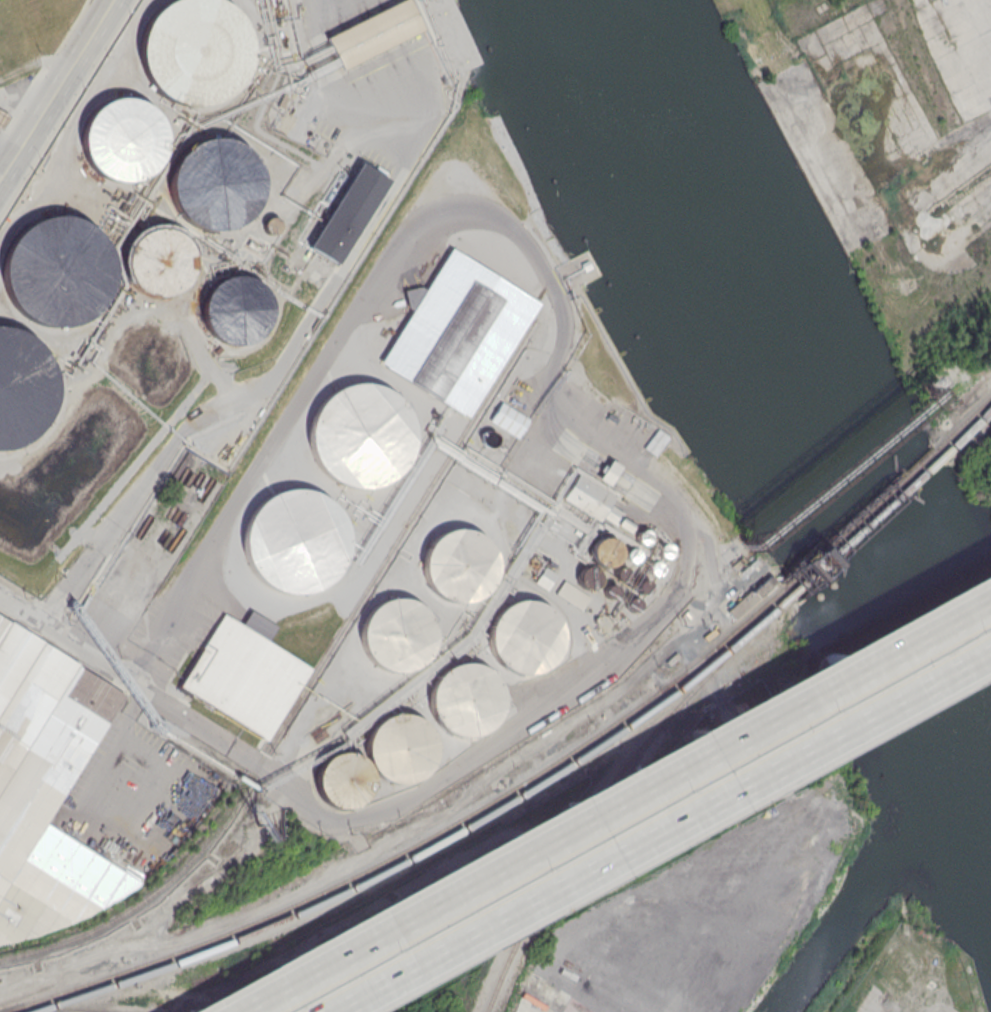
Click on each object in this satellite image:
road: (107, 10)
building: (372, 32)
building: (193, 50)
storage tank: (193, 50)
road: (35, 61)
road: (338, 94)
road: (50, 99)
building: (3, 119)
building: (120, 140)
storage tank: (120, 140)
building: (212, 184)
storage tank: (212, 184)
building: (346, 211)
building: (160, 261)
storage tank: (160, 261)
building: (55, 269)
storage tank: (55, 269)
building: (236, 308)
storage tank: (236, 308)
building: (457, 333)
road: (271, 376)
building: (22, 387)
storage tank: (22, 387)
river: (775, 390)
building: (508, 420)
railway: (963, 423)
railway: (969, 428)
railway: (965, 431)
building: (359, 438)
storage tank: (359, 438)
building: (652, 444)
park: (980, 487)
building: (592, 500)
railway: (860, 517)
railway: (866, 523)
building: (641, 537)
storage tank: (641, 537)
building: (293, 542)
storage tank: (293, 542)
building: (664, 549)
storage tank: (664, 549)
building: (603, 551)
storage tank: (603, 551)
building: (631, 554)
storage tank: (631, 554)
building: (457, 565)
storage tank: (457, 565)
building: (652, 568)
storage tank: (652, 568)
building: (619, 573)
storage tank: (619, 573)
building: (587, 577)
storage tank: (587, 577)
building: (543, 578)
building: (641, 585)
storage tank: (641, 585)
building: (609, 590)
storage tank: (609, 590)
building: (572, 594)
building: (746, 598)
building: (631, 604)
storage tank: (631, 604)
road: (25, 608)
building: (396, 634)
storage tank: (396, 634)
building: (524, 635)
storage tank: (524, 635)
building: (244, 676)
railway: (304, 686)
road: (137, 688)
building: (464, 700)
storage tank: (464, 700)
road: (496, 736)
building: (400, 746)
storage tank: (400, 746)
building: (41, 769)
building: (341, 778)
storage tank: (341, 778)
railway: (603, 794)
road: (609, 800)
road: (90, 813)
road: (660, 828)
railway: (417, 842)
railway: (432, 844)

